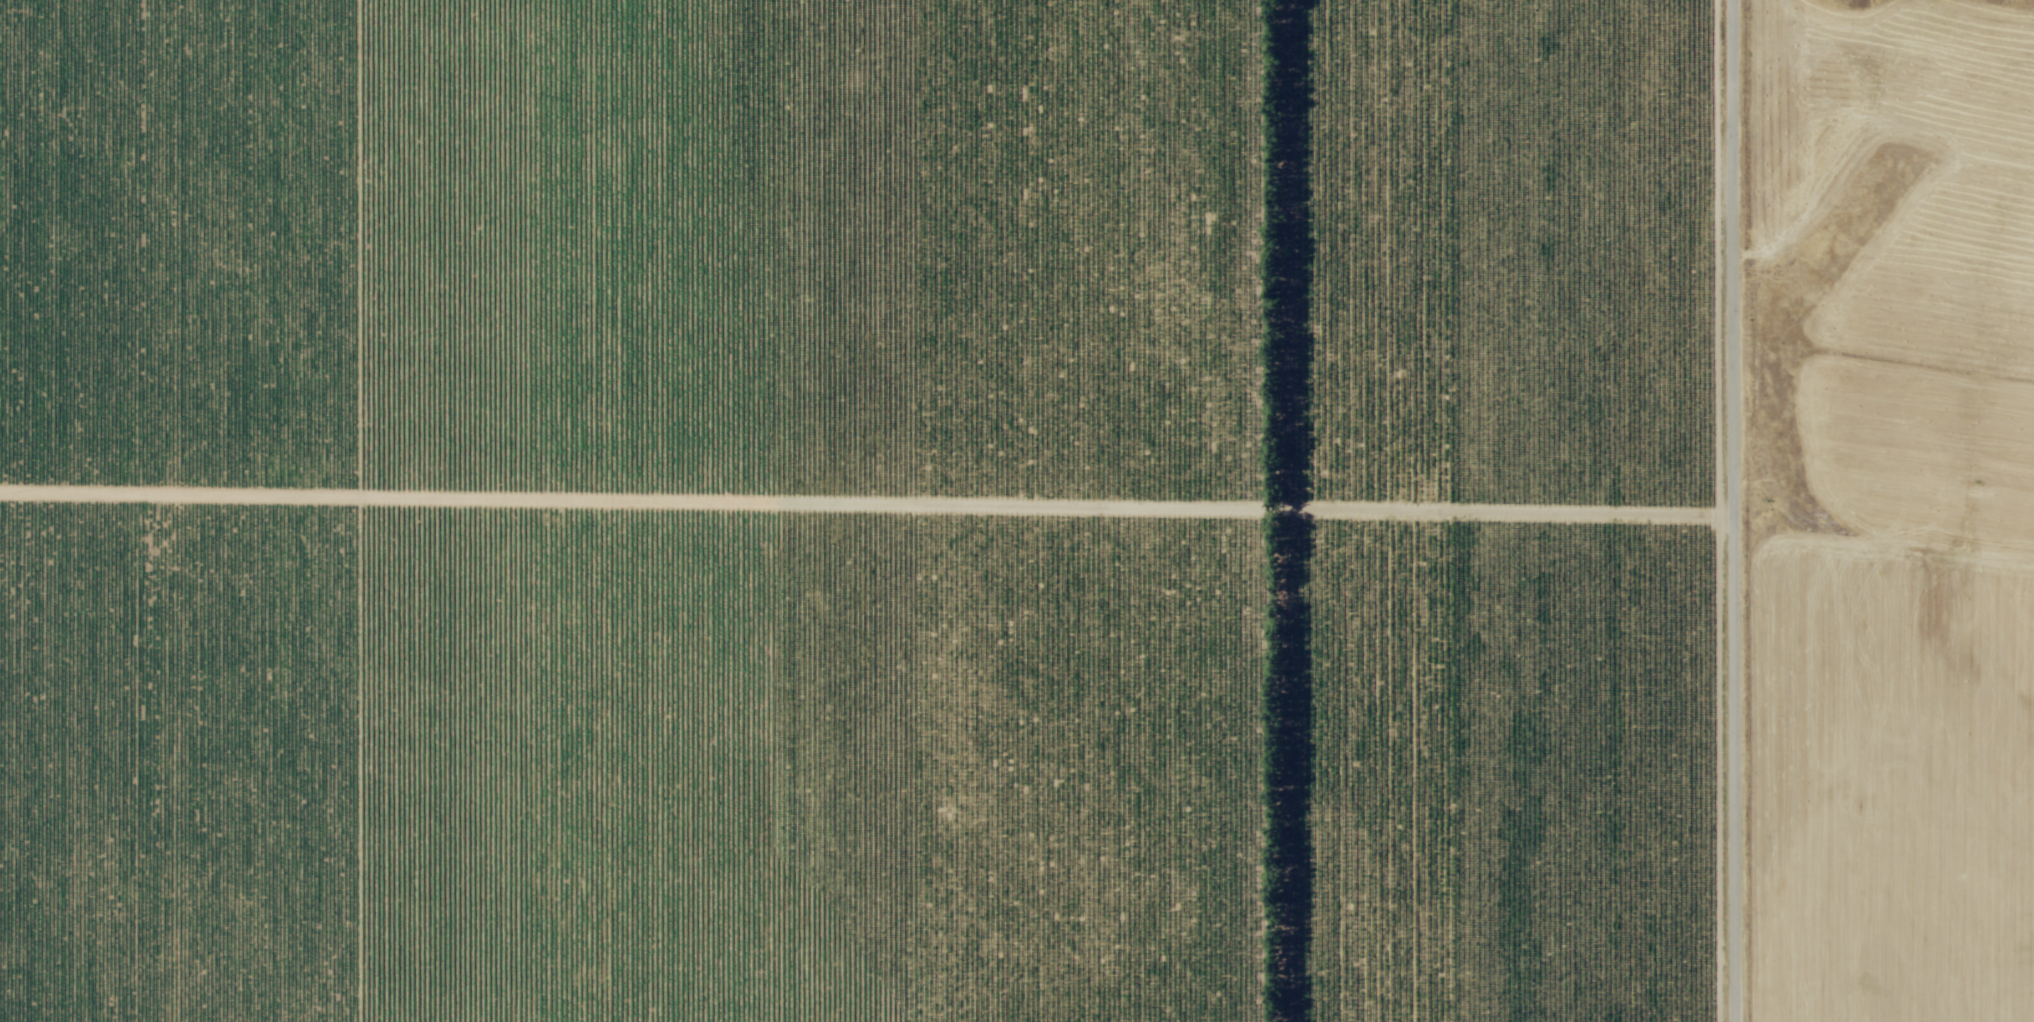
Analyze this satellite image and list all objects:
road: (1737, 510)
crop: (857, 511)

